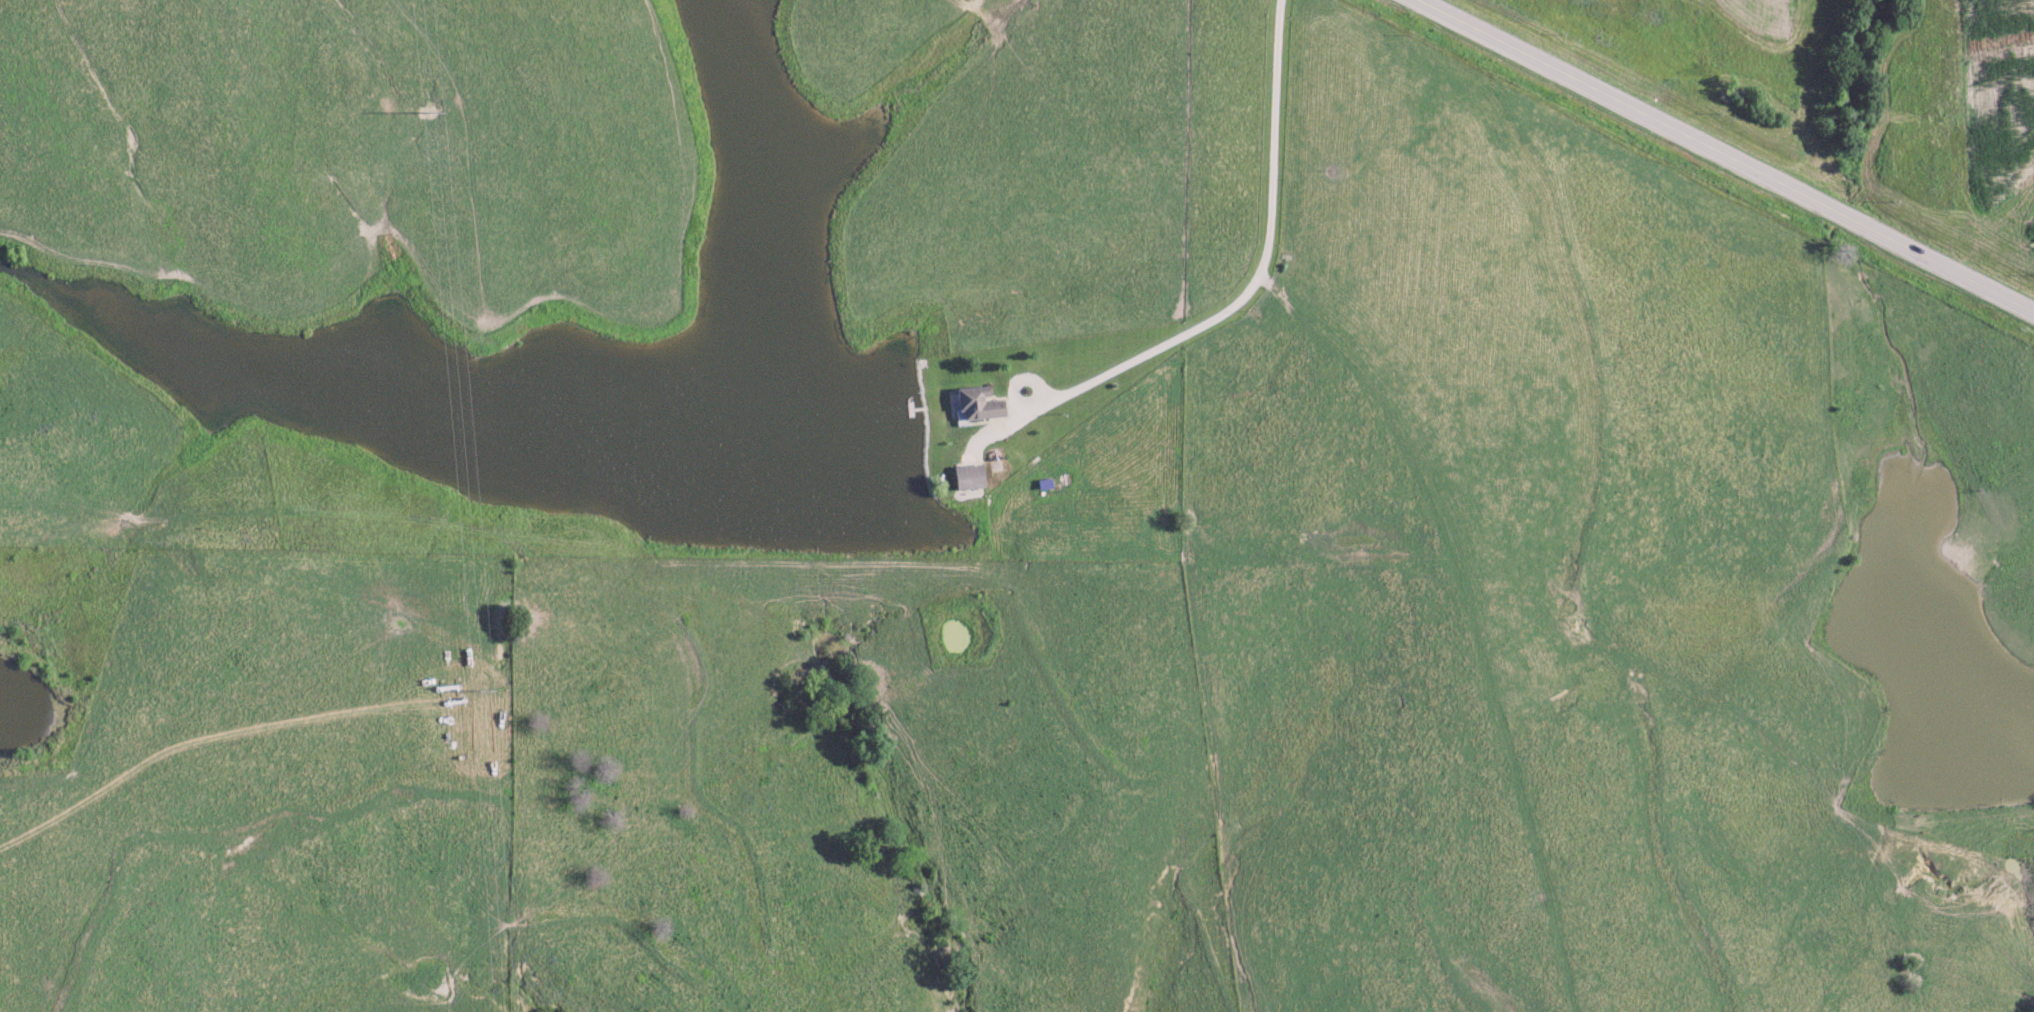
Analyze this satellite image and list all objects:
road: (1727, 154)
building: (974, 402)
building: (966, 475)

